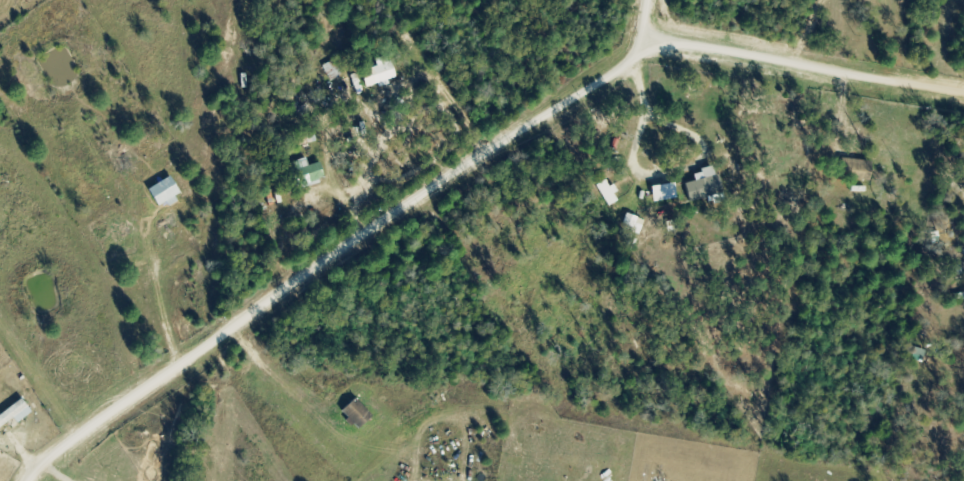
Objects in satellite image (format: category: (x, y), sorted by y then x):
road: (651, 23)
road: (808, 66)
building: (331, 69)
building: (376, 74)
building: (853, 168)
building: (304, 173)
building: (158, 181)
building: (700, 187)
building: (536, 233)
road: (333, 259)
building: (355, 413)
building: (17, 415)

